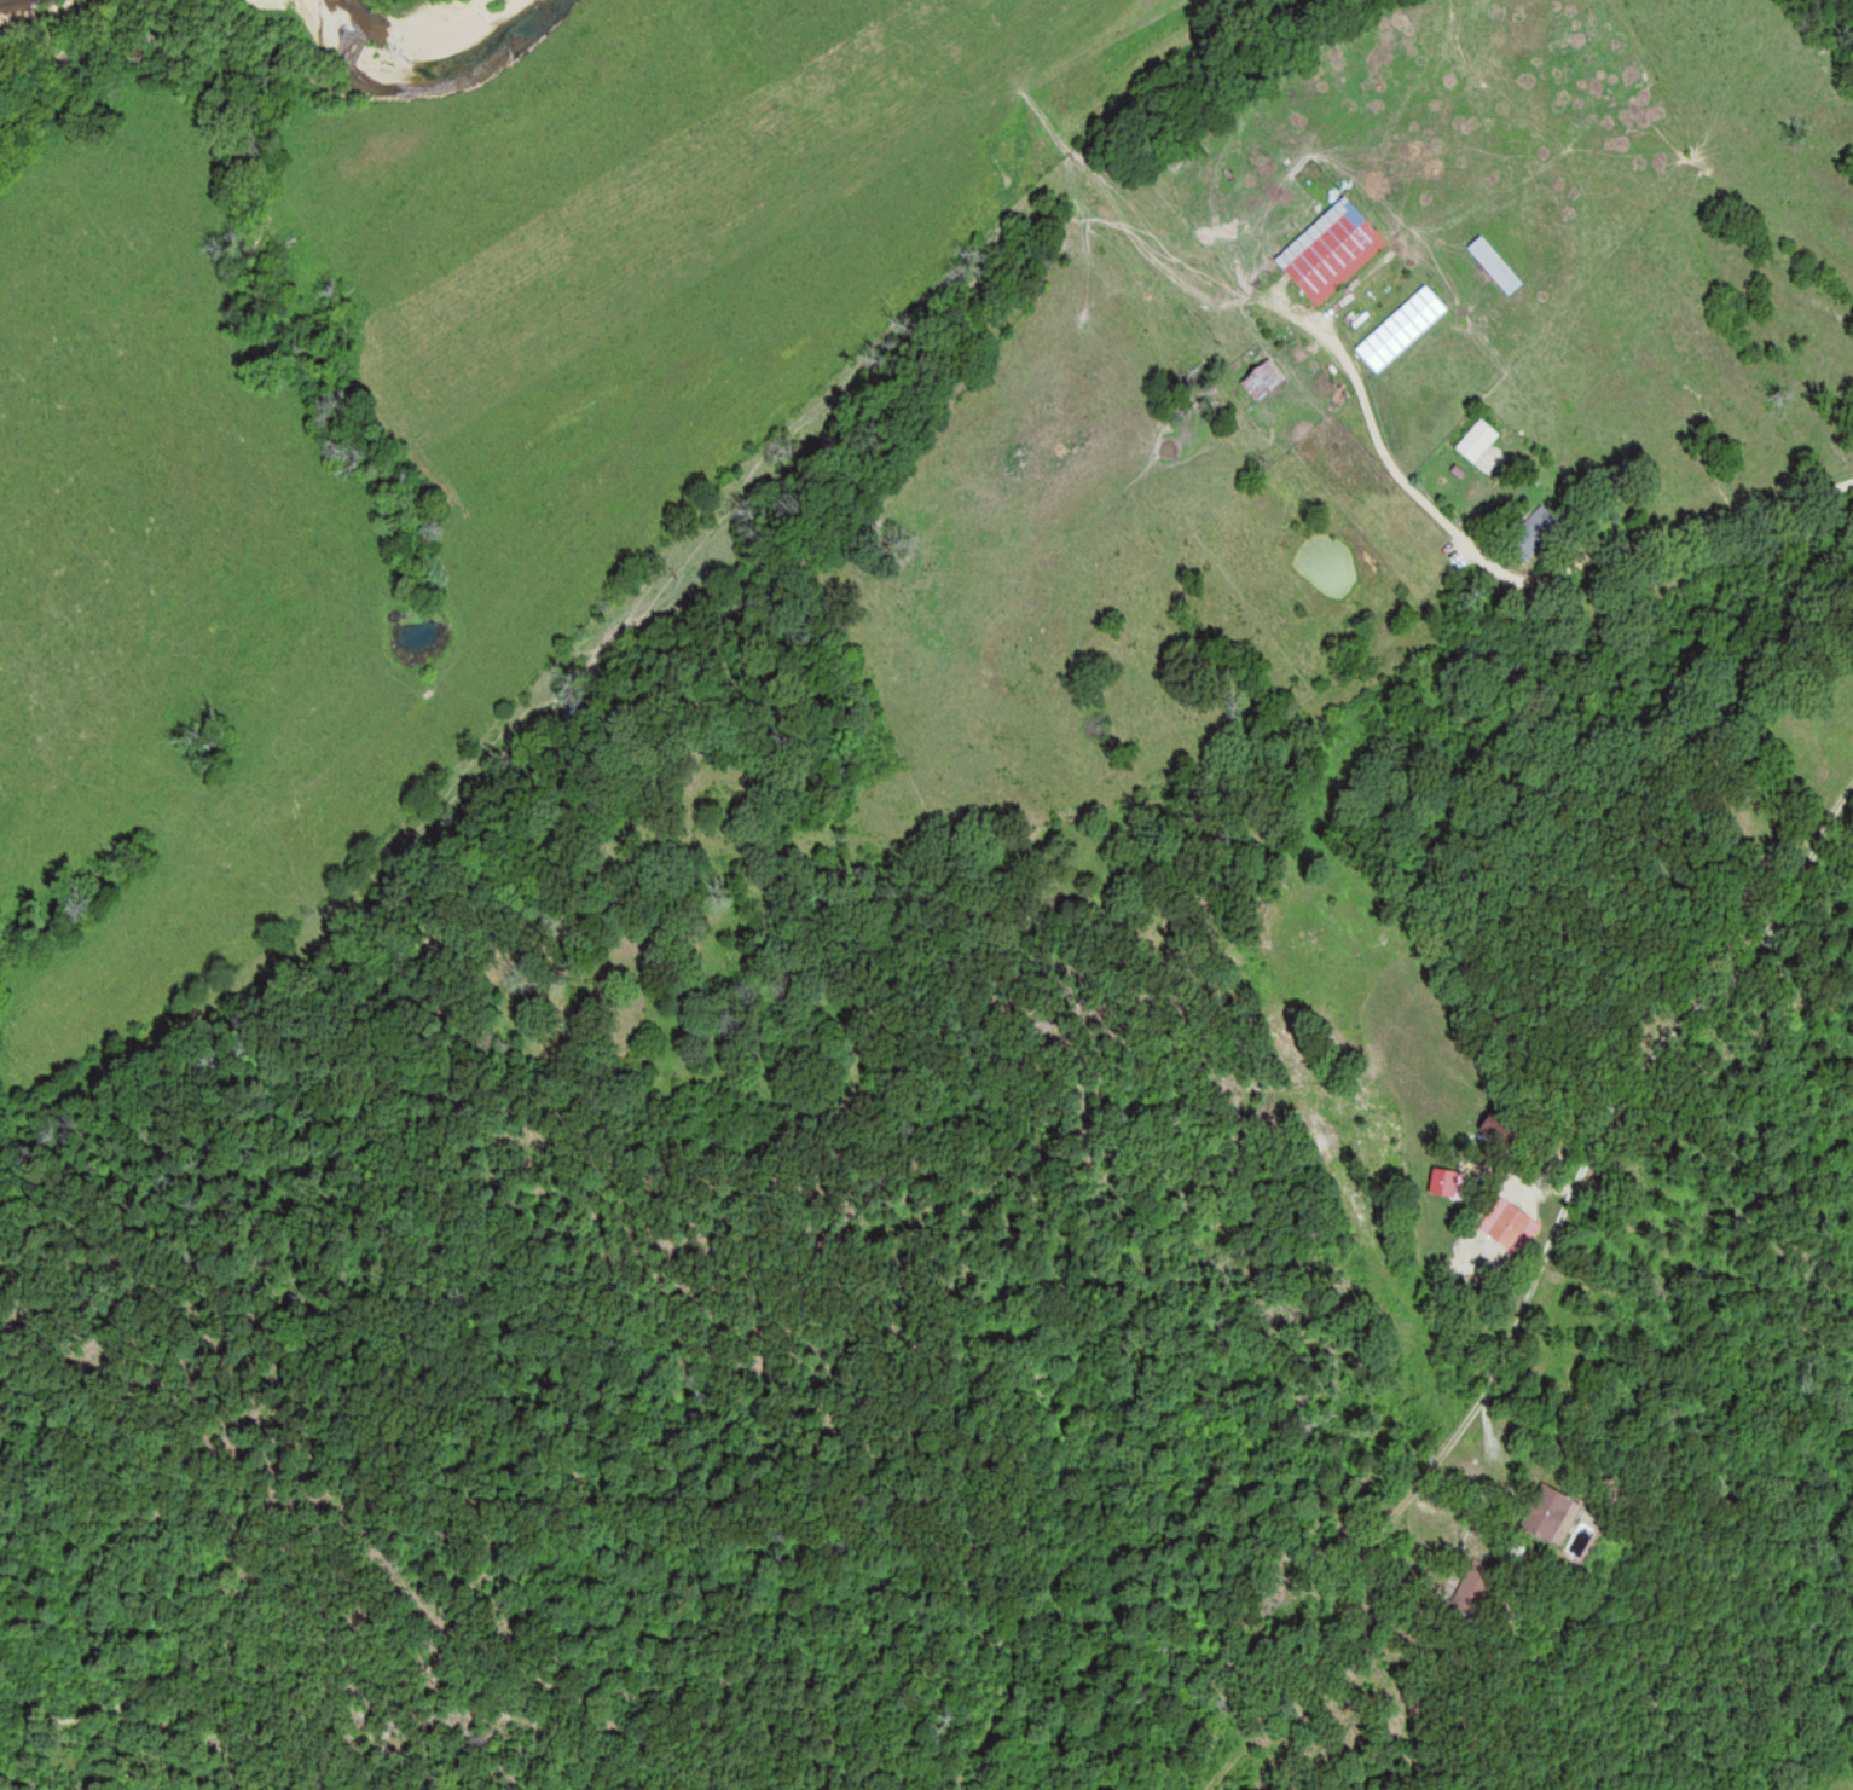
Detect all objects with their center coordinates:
river: (401, 64)
building: (1332, 250)
building: (1403, 328)
building: (1270, 372)
road: (1660, 438)
building: (1479, 439)
building: (1539, 531)
road: (1616, 568)
building: (1449, 1182)
building: (1512, 1226)
road: (1525, 1286)
building: (1552, 1512)

